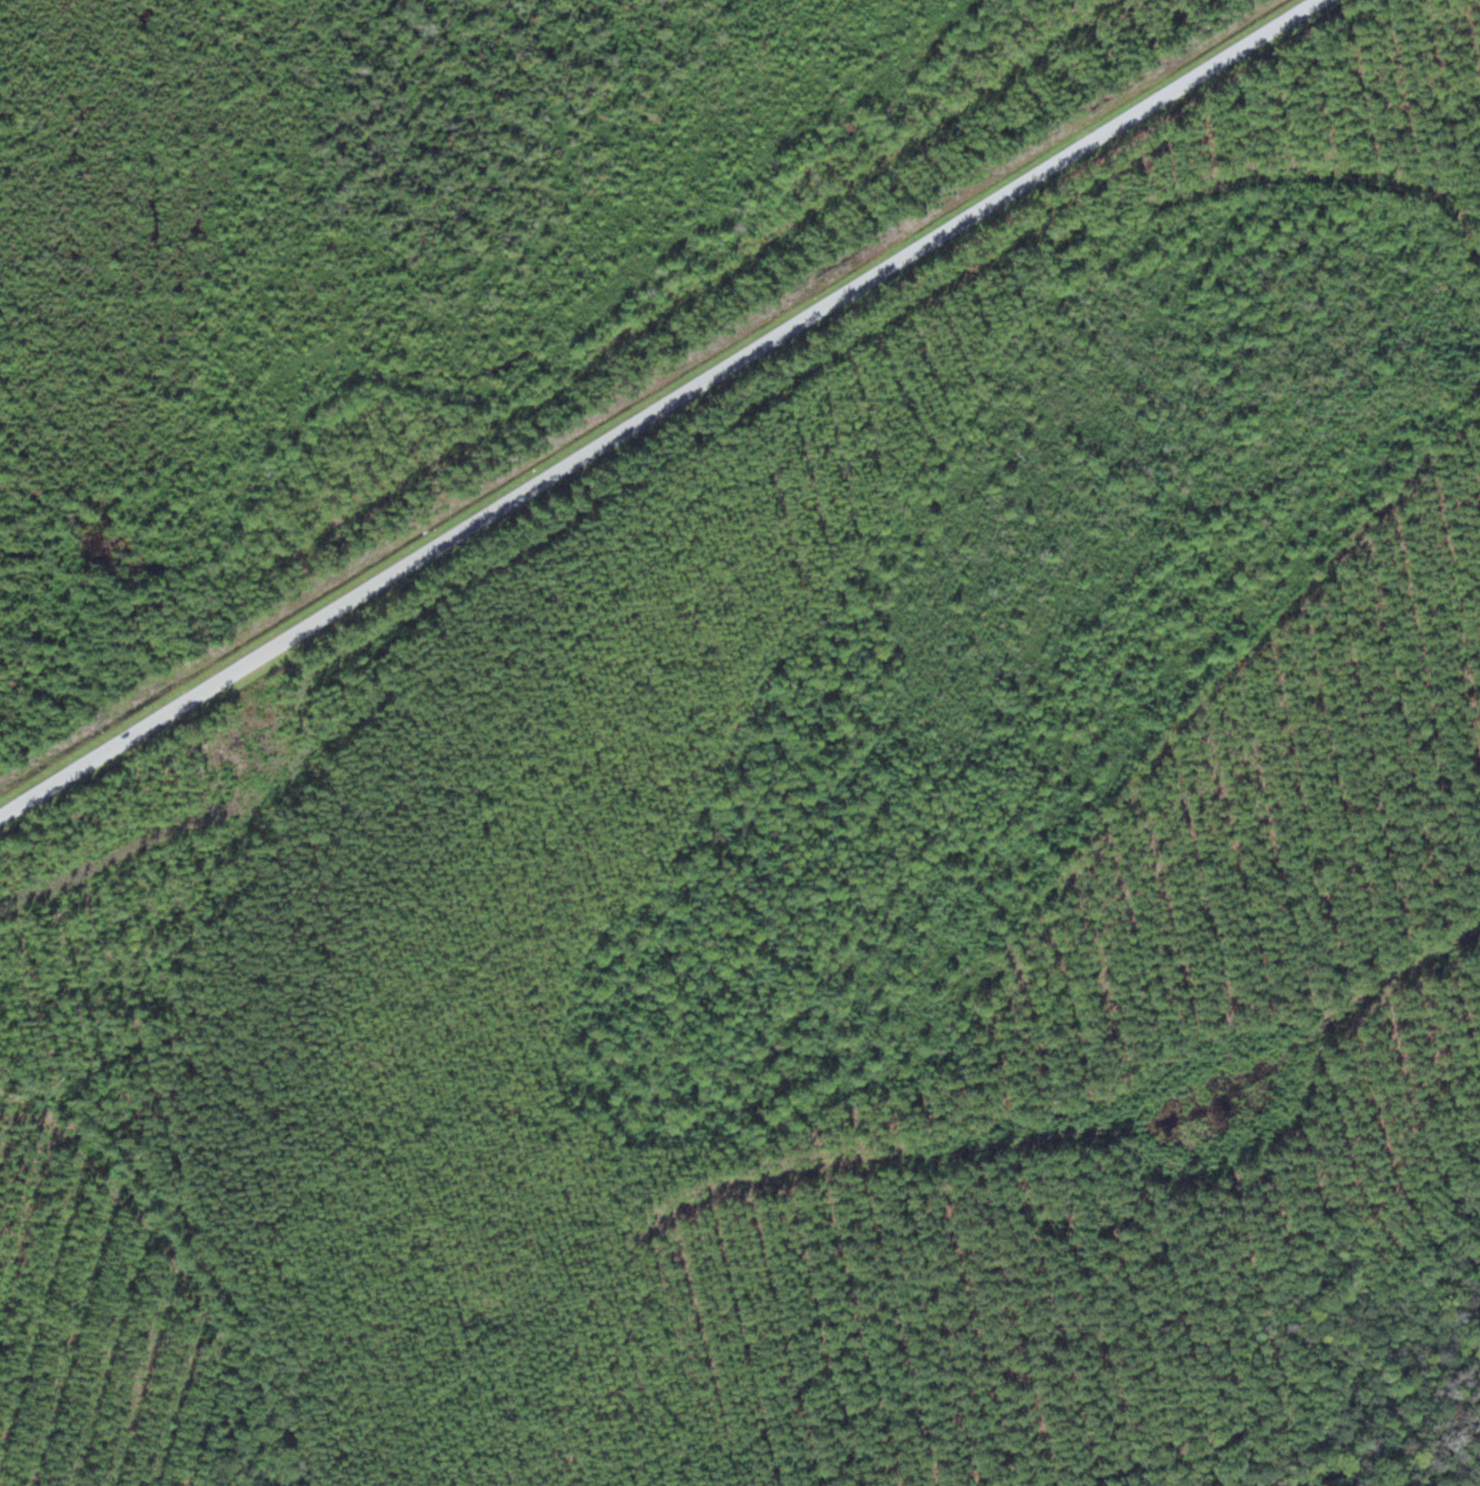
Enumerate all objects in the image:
road: (646, 404)

